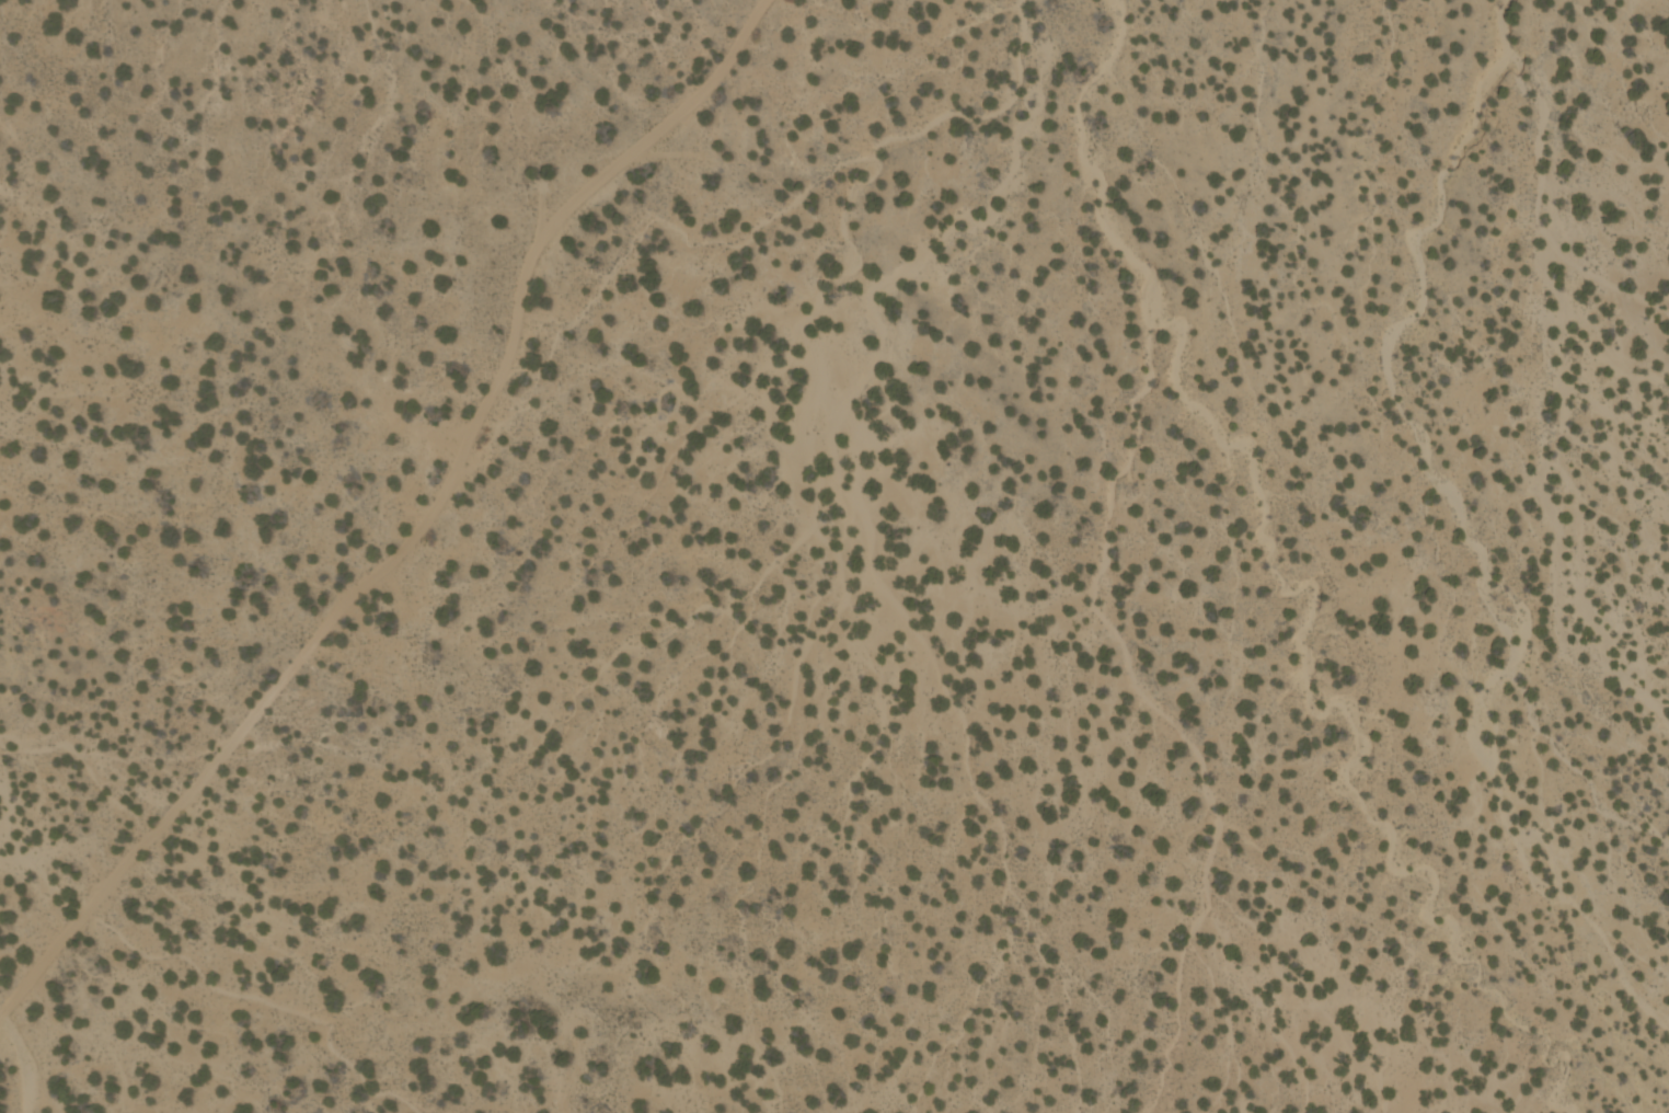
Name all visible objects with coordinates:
road: (418, 518)

